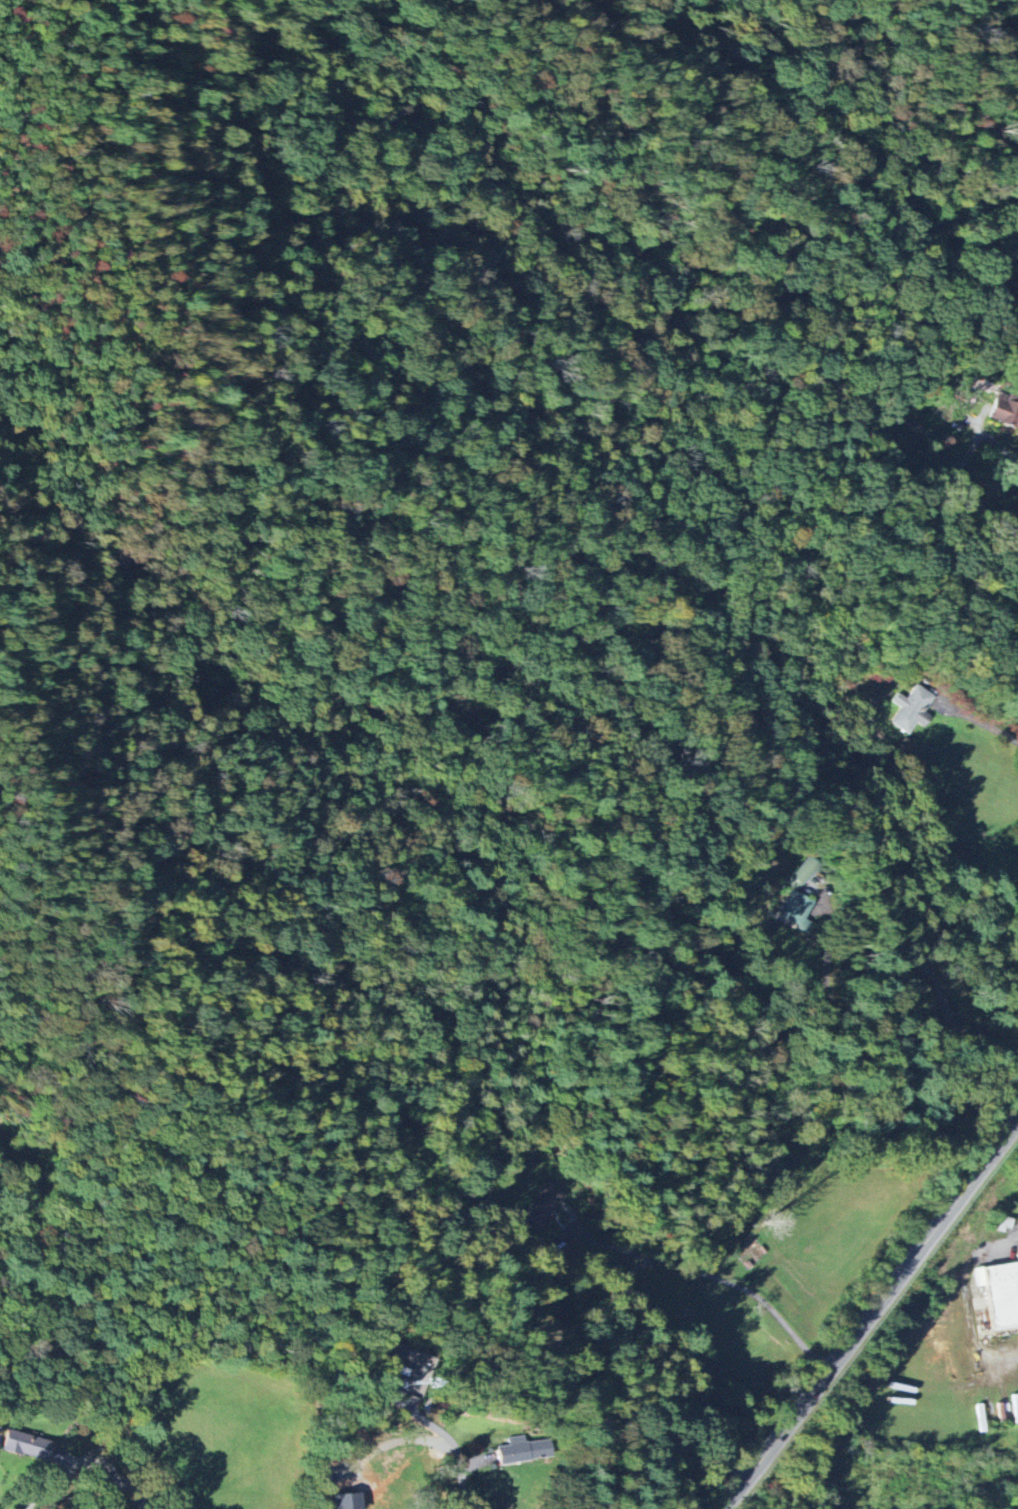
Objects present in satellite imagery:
road: (764, 19)
road: (958, 125)
building: (1005, 410)
road: (958, 476)
building: (912, 710)
road: (978, 721)
road: (889, 970)
building: (1017, 1255)
road: (659, 1263)
building: (1002, 1293)
road: (969, 1302)
road: (873, 1316)
building: (32, 1447)
building: (523, 1451)
building: (349, 1500)

